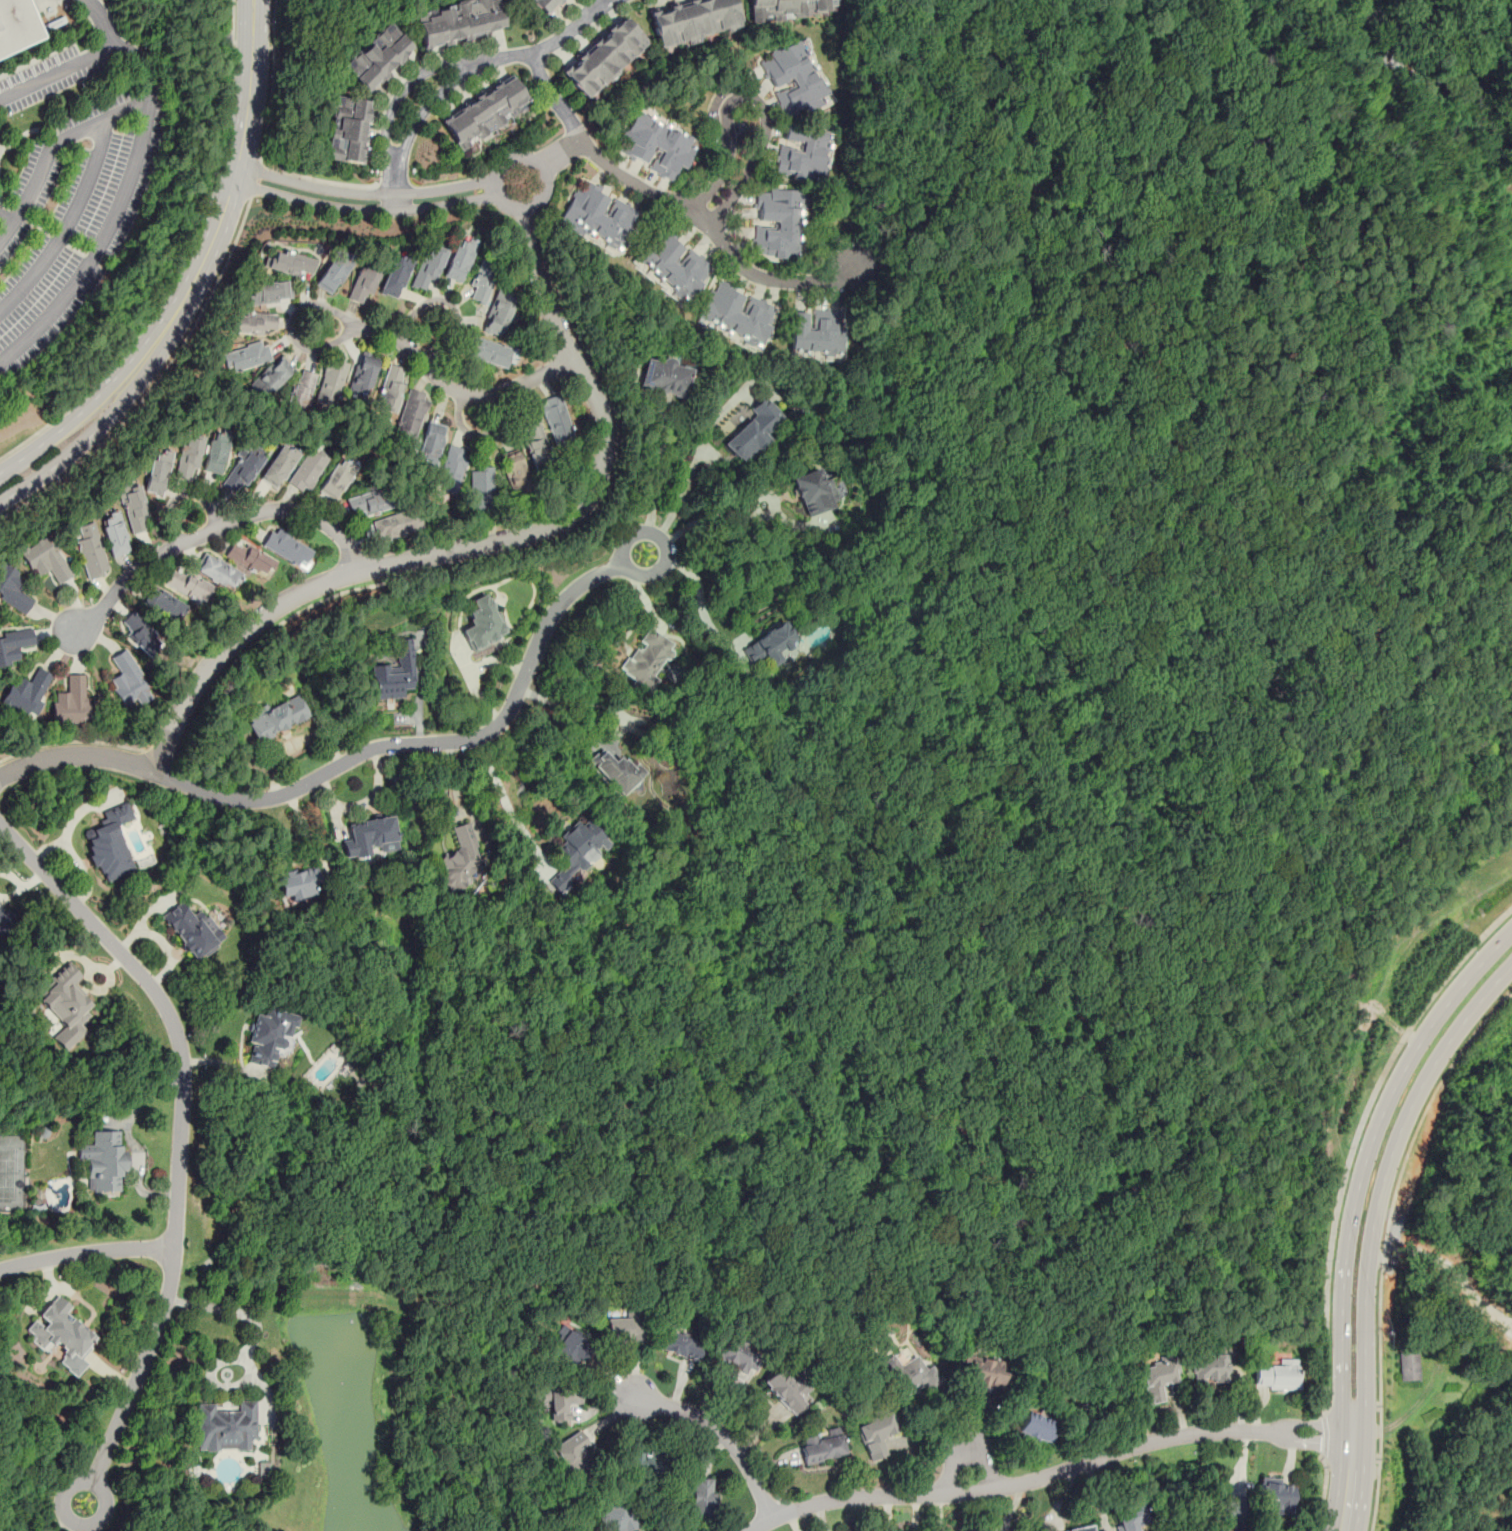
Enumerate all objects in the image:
building: (543, 5)
building: (789, 8)
road: (249, 18)
road: (256, 18)
road: (233, 19)
building: (692, 20)
road: (101, 21)
building: (456, 21)
road: (222, 22)
building: (15, 25)
building: (376, 57)
building: (604, 58)
road: (1281, 58)
road: (459, 67)
road: (270, 80)
building: (794, 81)
building: (484, 114)
building: (346, 130)
building: (658, 146)
road: (50, 147)
road: (561, 153)
building: (802, 155)
road: (140, 156)
road: (738, 167)
road: (255, 178)
road: (1372, 185)
road: (495, 189)
parking lot: (71, 190)
road: (228, 197)
road: (364, 199)
road: (676, 203)
road: (8, 216)
building: (602, 220)
road: (69, 224)
building: (778, 225)
building: (459, 258)
building: (291, 264)
building: (674, 266)
road: (1428, 266)
building: (427, 267)
building: (333, 274)
road: (1498, 276)
building: (395, 277)
road: (172, 279)
building: (482, 282)
building: (362, 284)
building: (267, 293)
road: (451, 304)
building: (501, 312)
building: (737, 315)
building: (253, 323)
building: (816, 333)
building: (484, 351)
building: (248, 357)
building: (362, 376)
building: (272, 378)
building: (665, 378)
road: (441, 379)
building: (330, 381)
road: (158, 383)
building: (390, 390)
building: (298, 394)
road: (82, 413)
building: (411, 415)
building: (556, 419)
building: (753, 430)
road: (90, 434)
road: (479, 434)
building: (536, 443)
building: (430, 444)
building: (216, 453)
building: (188, 458)
building: (279, 467)
building: (453, 467)
building: (244, 469)
building: (157, 470)
building: (308, 471)
building: (515, 472)
building: (338, 480)
road: (655, 485)
building: (482, 490)
building: (813, 492)
road: (182, 495)
road: (678, 499)
building: (368, 504)
building: (134, 510)
road: (701, 521)
building: (397, 525)
road: (213, 529)
building: (115, 535)
road: (485, 542)
building: (287, 549)
building: (90, 550)
building: (45, 559)
building: (249, 559)
road: (1445, 559)
building: (218, 573)
building: (189, 586)
building: (13, 587)
road: (698, 589)
building: (160, 603)
building: (484, 623)
building: (139, 633)
road: (1380, 633)
building: (769, 644)
building: (14, 645)
building: (648, 657)
building: (395, 673)
road: (473, 673)
building: (129, 681)
road: (420, 691)
building: (26, 692)
building: (72, 700)
road: (576, 701)
building: (277, 716)
road: (293, 743)
road: (359, 754)
building: (616, 770)
road: (458, 792)
road: (362, 801)
road: (502, 801)
road: (1037, 815)
road: (69, 827)
building: (370, 837)
building: (110, 844)
building: (576, 851)
building: (459, 860)
road: (85, 873)
building: (299, 882)
building: (4, 920)
building: (193, 930)
road: (164, 941)
building: (66, 1005)
building: (271, 1037)
road: (128, 1135)
road: (1357, 1137)
road: (180, 1139)
building: (105, 1160)
road: (1365, 1160)
park: (12, 1172)
road: (1400, 1179)
road: (1384, 1180)
road: (86, 1253)
road: (248, 1317)
building: (624, 1325)
building: (60, 1334)
building: (681, 1344)
building: (571, 1351)
building: (738, 1354)
building: (1408, 1366)
building: (1210, 1368)
building: (977, 1371)
building: (908, 1373)
building: (1278, 1375)
building: (1156, 1377)
building: (787, 1388)
building: (560, 1401)
road: (1352, 1404)
building: (225, 1426)
building: (1036, 1427)
road: (718, 1430)
building: (876, 1431)
road: (1322, 1436)
road: (965, 1440)
building: (821, 1446)
building: (573, 1451)
road: (1352, 1461)
building: (645, 1463)
road: (1378, 1468)
road: (1051, 1474)
road: (1350, 1482)
building: (1277, 1494)
road: (1322, 1494)
building: (700, 1498)
building: (1228, 1510)
road: (68, 1516)
building: (617, 1516)
building: (1129, 1516)
building: (1083, 1528)

